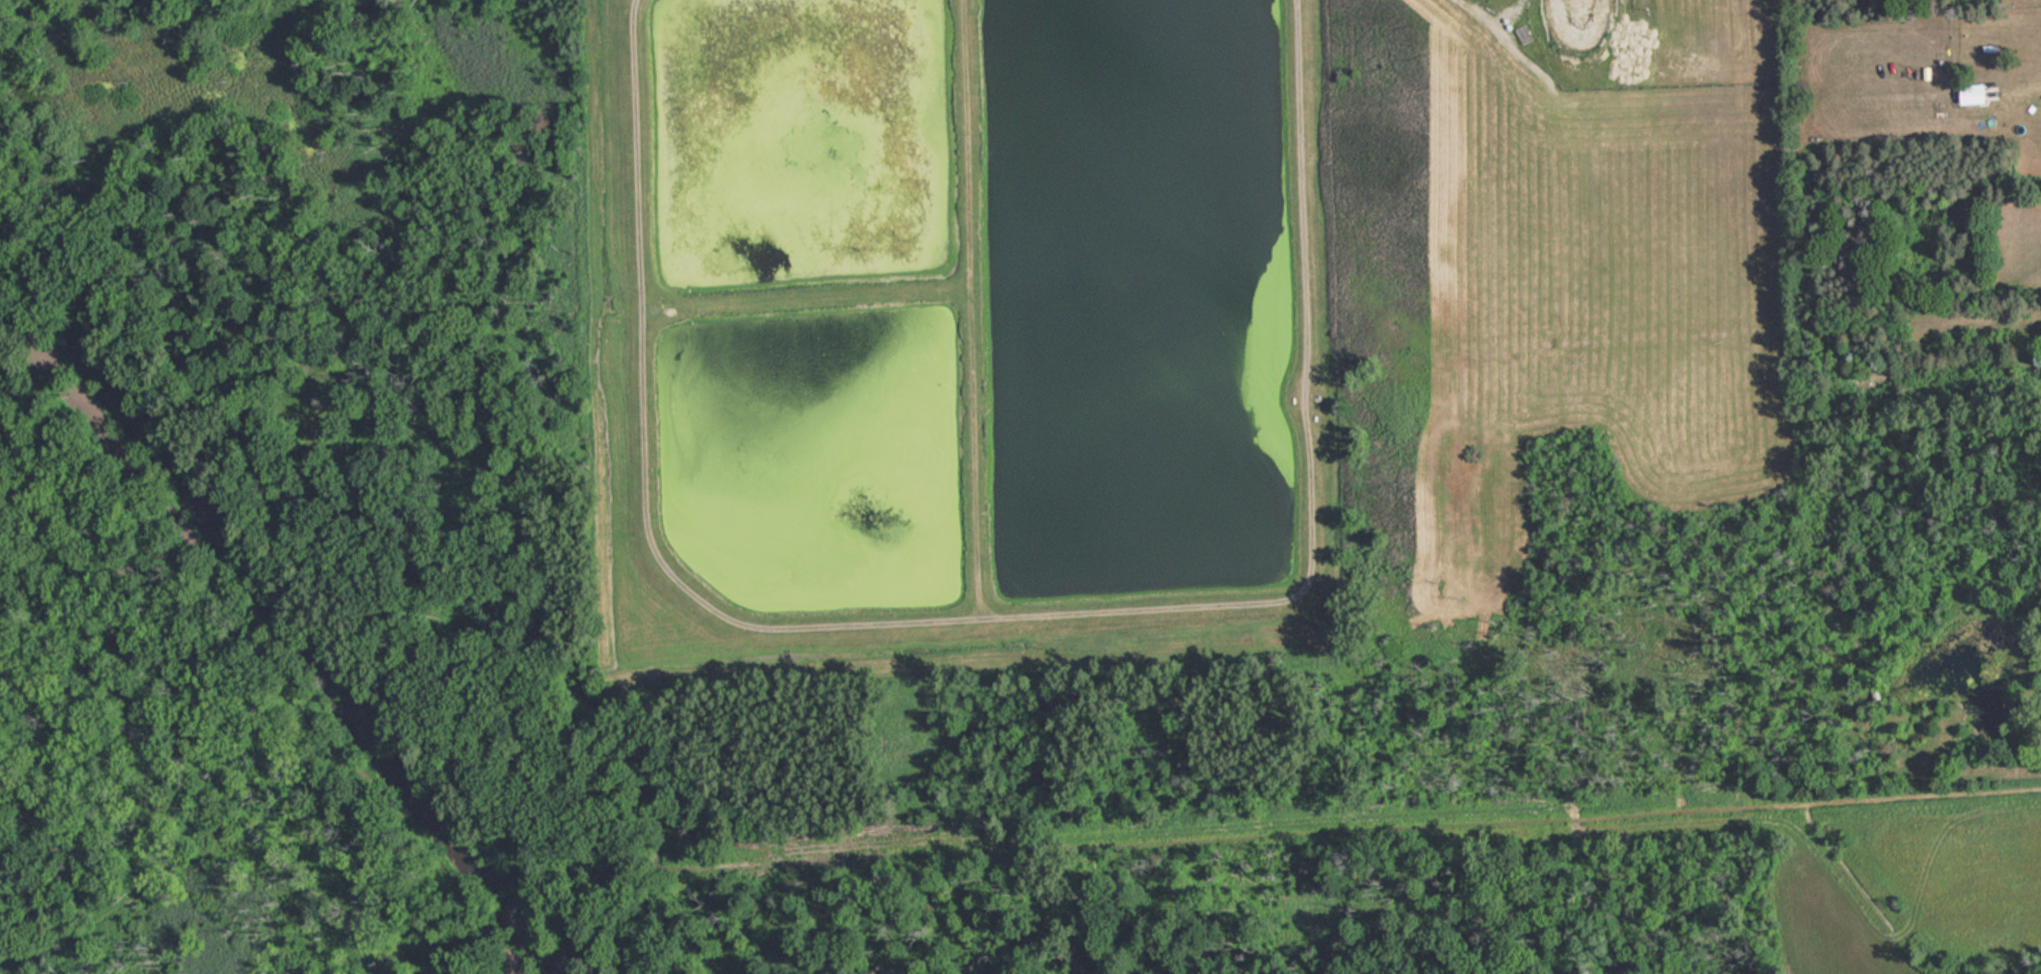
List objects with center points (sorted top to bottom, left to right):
river: (279, 611)
building: (2040, 716)

